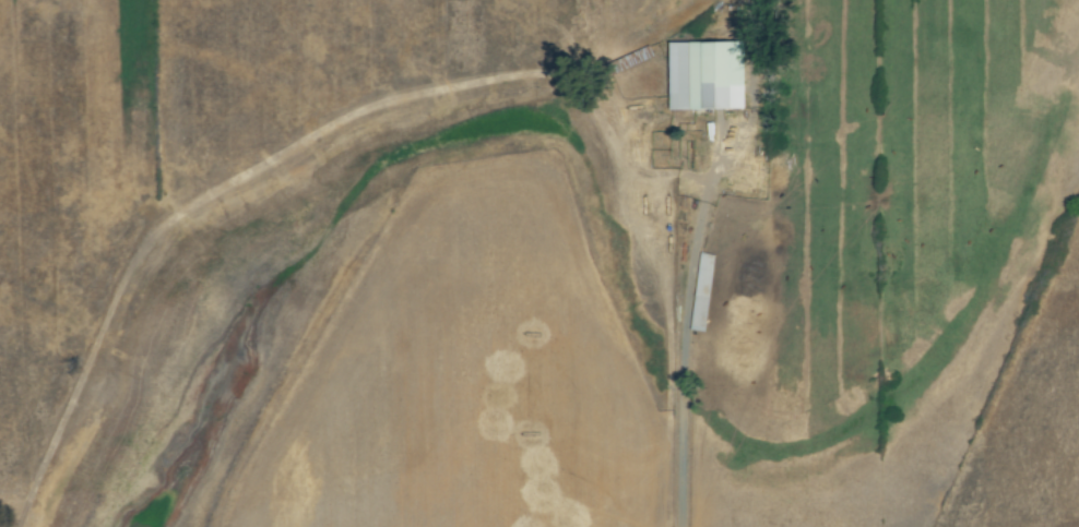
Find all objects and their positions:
building: (708, 76)
building: (703, 292)
road: (683, 361)

